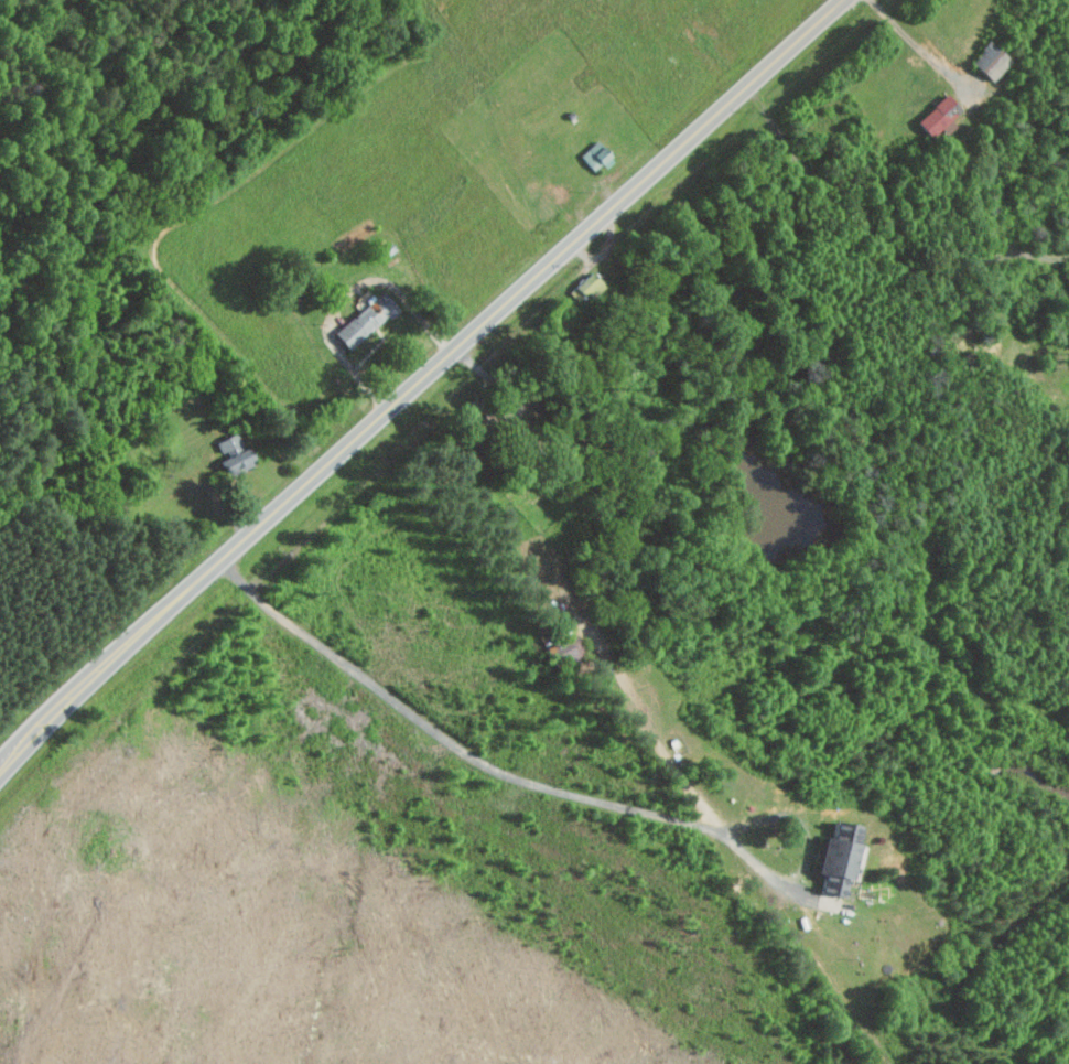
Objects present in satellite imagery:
road: (918, 47)
building: (989, 61)
building: (938, 116)
building: (595, 157)
road: (878, 237)
building: (585, 287)
road: (347, 295)
building: (363, 320)
road: (418, 384)
building: (231, 453)
road: (557, 789)
building: (834, 857)

